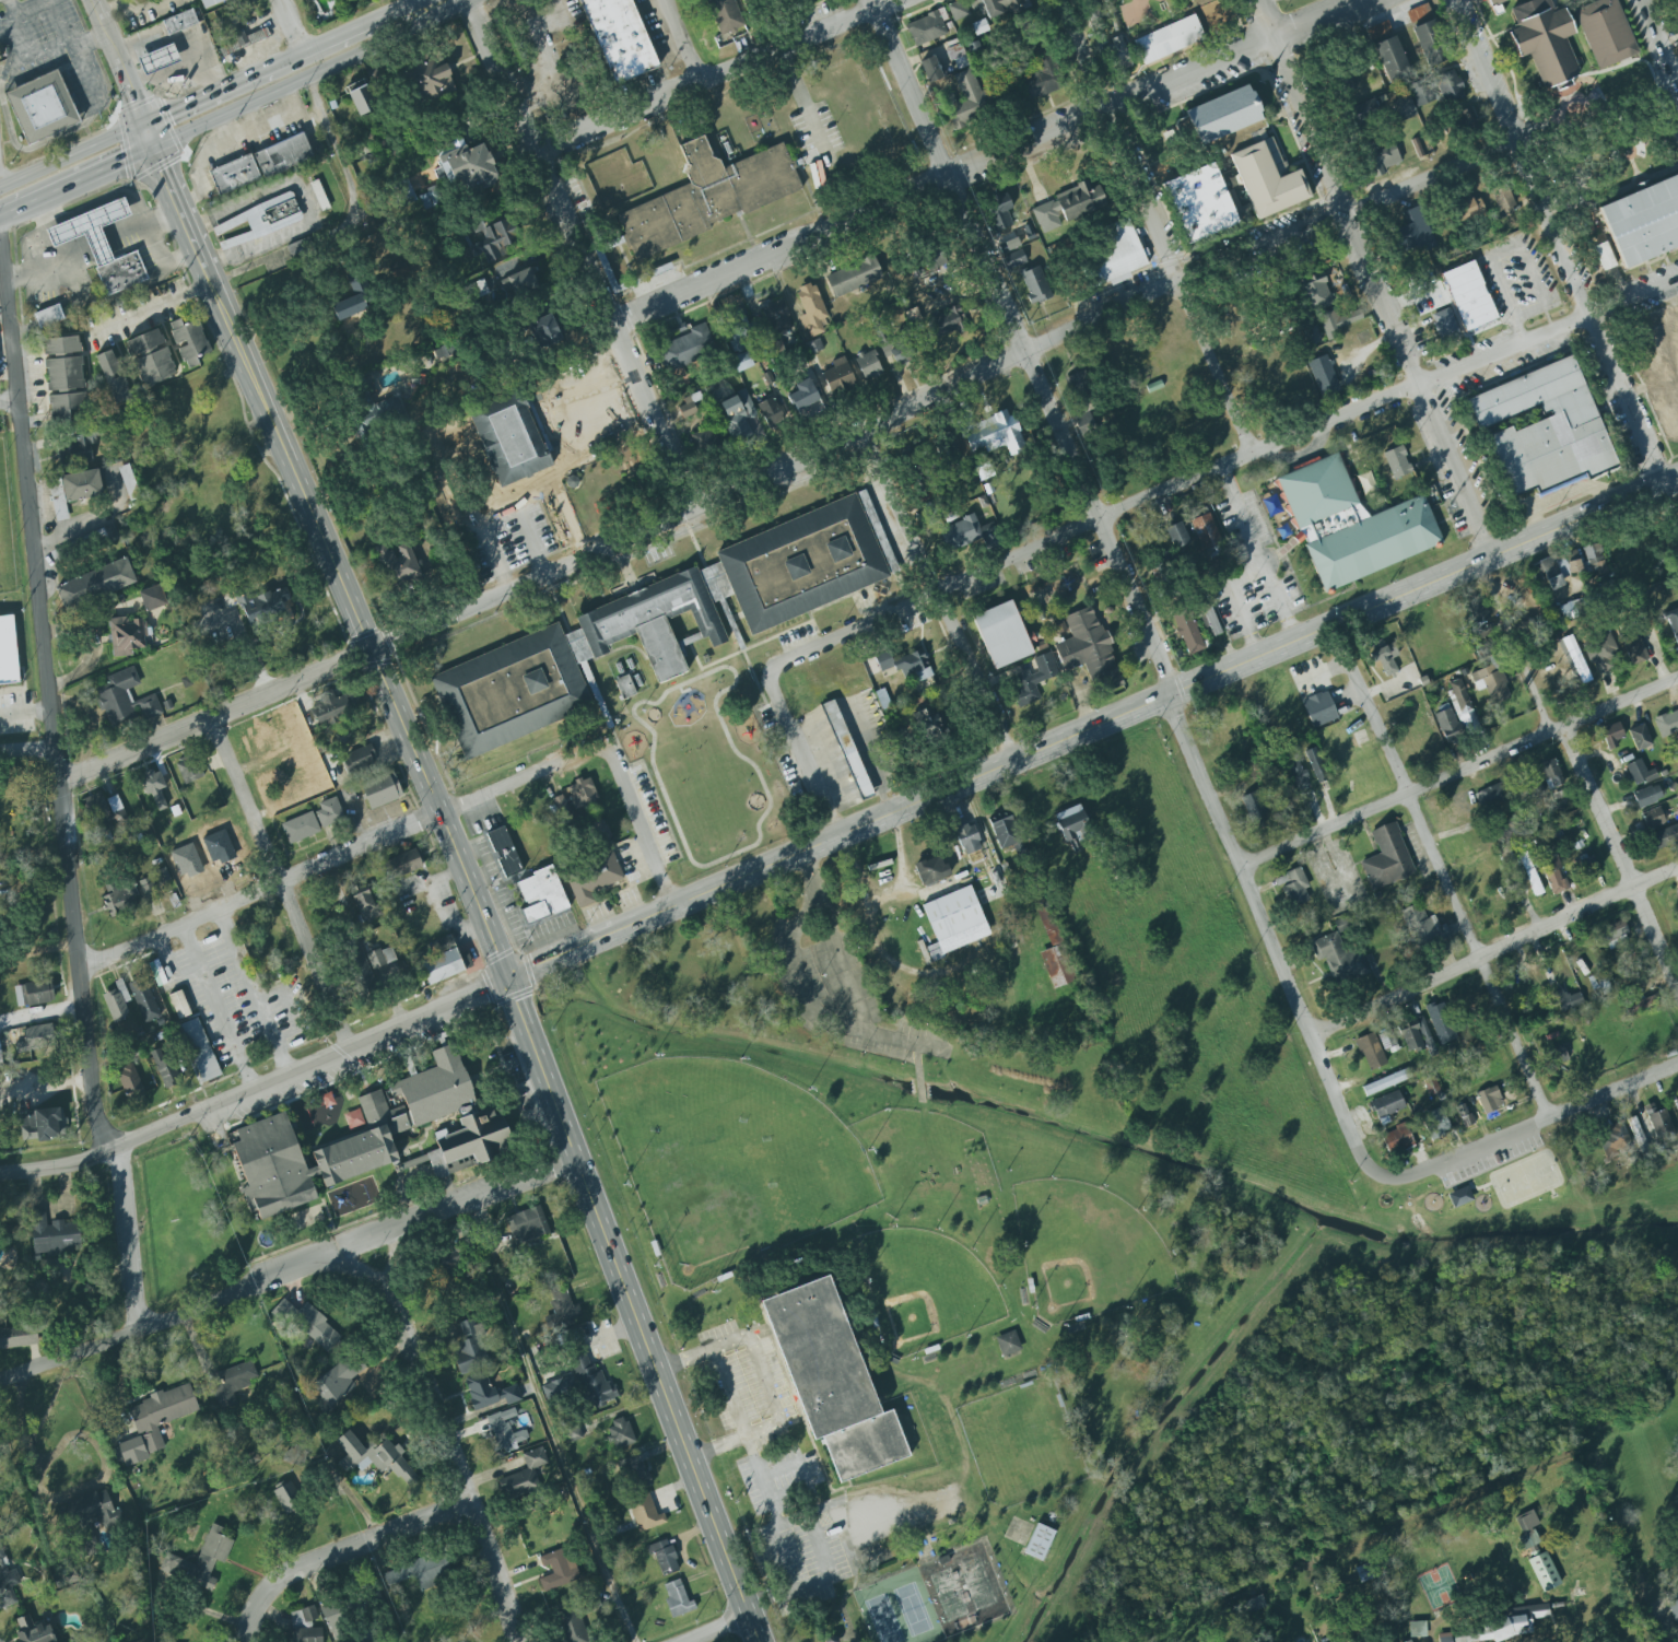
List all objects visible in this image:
building: (362, 0)
building: (774, 0)
building: (1492, 1)
building: (209, 2)
building: (754, 3)
building: (994, 5)
building: (958, 10)
road: (391, 12)
building: (723, 15)
building: (179, 21)
road: (289, 26)
building: (927, 27)
building: (1378, 31)
building: (1605, 32)
road: (180, 35)
building: (240, 36)
building: (618, 38)
building: (1170, 38)
road: (685, 40)
building: (1544, 40)
building: (1430, 42)
road: (1658, 46)
road: (537, 50)
building: (1119, 52)
building: (159, 59)
building: (1390, 59)
road: (118, 61)
building: (930, 69)
road: (165, 72)
road: (255, 74)
building: (1043, 74)
road: (714, 75)
road: (307, 77)
building: (430, 78)
building: (1448, 85)
building: (361, 97)
traffic signals: (134, 98)
road: (802, 99)
building: (972, 99)
building: (40, 106)
building: (1405, 108)
building: (1363, 112)
traffic signals: (169, 113)
road: (254, 115)
building: (1228, 117)
building: (1466, 120)
road: (221, 130)
road: (150, 136)
road: (330, 141)
road: (228, 142)
road: (72, 154)
building: (282, 154)
building: (1382, 160)
road: (990, 161)
traffic signals: (124, 162)
traffic signals: (163, 169)
building: (233, 174)
building: (1267, 176)
road: (78, 183)
building: (709, 195)
building: (319, 196)
building: (429, 199)
building: (1080, 199)
building: (1502, 201)
road: (303, 202)
building: (1199, 203)
building: (1468, 211)
building: (998, 212)
building: (1046, 215)
road: (162, 218)
building: (259, 220)
building: (1643, 221)
road: (1154, 227)
building: (1415, 231)
building: (495, 239)
building: (101, 245)
building: (1009, 245)
building: (300, 248)
building: (1117, 249)
road: (288, 250)
road: (159, 251)
road: (583, 253)
road: (48, 254)
building: (1604, 256)
road: (180, 258)
building: (1014, 259)
building: (930, 261)
building: (398, 269)
road: (1566, 270)
building: (853, 275)
road: (1371, 278)
building: (518, 283)
building: (1035, 285)
building: (477, 290)
building: (1314, 292)
building: (1469, 296)
building: (353, 300)
road: (149, 306)
building: (810, 309)
building: (48, 316)
building: (777, 318)
building: (1339, 320)
building: (948, 322)
building: (1445, 325)
building: (738, 330)
building: (544, 332)
building: (1313, 338)
building: (188, 340)
road: (1026, 345)
building: (1661, 345)
building: (813, 347)
building: (688, 348)
building: (740, 348)
building: (446, 350)
building: (899, 350)
building: (150, 356)
building: (868, 365)
building: (113, 375)
building: (1323, 375)
building: (63, 376)
building: (838, 377)
building: (1080, 386)
building: (805, 399)
road: (8, 403)
building: (688, 407)
building: (384, 412)
building: (737, 412)
building: (770, 412)
building: (1668, 417)
building: (1084, 423)
building: (1544, 427)
road: (867, 429)
building: (996, 435)
building: (509, 438)
building: (705, 441)
road: (802, 444)
building: (78, 453)
building: (1395, 461)
road: (1219, 467)
building: (129, 482)
building: (72, 489)
road: (497, 514)
road: (889, 517)
road: (87, 520)
building: (1348, 523)
building: (1205, 530)
building: (964, 532)
building: (1176, 535)
road: (1256, 553)
building: (1594, 560)
building: (807, 562)
building: (397, 563)
building: (1558, 567)
road: (1291, 573)
building: (95, 584)
building: (151, 598)
road: (1235, 602)
building: (266, 608)
building: (1477, 609)
building: (1572, 609)
building: (1211, 620)
building: (1671, 621)
building: (1482, 631)
building: (1188, 632)
building: (1001, 633)
building: (127, 635)
road: (1514, 645)
building: (1632, 648)
building: (1088, 650)
building: (8, 652)
building: (1600, 652)
building: (1574, 659)
building: (571, 661)
building: (906, 665)
road: (1322, 672)
road: (973, 677)
building: (1034, 678)
building: (1491, 683)
building: (625, 687)
building: (125, 699)
road: (1147, 705)
building: (332, 706)
building: (1463, 707)
building: (1319, 709)
road: (24, 713)
building: (1666, 723)
building: (930, 724)
building: (1447, 724)
building: (1610, 734)
building: (1639, 737)
building: (1416, 746)
building: (847, 749)
road: (25, 751)
building: (1343, 751)
road: (801, 754)
building: (359, 759)
building: (1315, 765)
building: (189, 769)
road: (1456, 771)
building: (1638, 772)
building: (1550, 774)
building: (1299, 776)
building: (154, 788)
building: (380, 789)
road: (57, 793)
building: (1490, 795)
building: (1645, 795)
building: (575, 798)
building: (1254, 808)
building: (97, 809)
building: (329, 811)
building: (118, 812)
building: (1652, 818)
road: (638, 824)
building: (1071, 824)
building: (300, 826)
building: (1514, 828)
building: (601, 831)
building: (1006, 832)
road: (1448, 833)
building: (1665, 837)
building: (969, 840)
parking lot: (1416, 847)
road: (1375, 849)
building: (504, 852)
road: (342, 856)
road: (1620, 857)
building: (1388, 859)
building: (1537, 861)
building: (400, 865)
building: (1588, 867)
road: (808, 869)
building: (930, 869)
road: (1440, 869)
building: (1529, 872)
parking lot: (1337, 875)
building: (1486, 875)
building: (1554, 876)
building: (592, 879)
road: (278, 885)
road: (1342, 887)
building: (148, 888)
building: (1295, 888)
road: (472, 889)
building: (541, 894)
road: (890, 895)
building: (120, 896)
building: (364, 904)
building: (1677, 906)
building: (954, 922)
building: (1421, 927)
building: (1614, 935)
road: (1267, 943)
building: (1054, 949)
road: (1491, 951)
road: (562, 954)
building: (1386, 955)
building: (382, 958)
road: (836, 958)
building: (1338, 959)
road: (168, 966)
building: (359, 970)
road: (798, 973)
traffic signals: (507, 977)
parking lot: (838, 982)
building: (1599, 984)
building: (34, 993)
road: (253, 993)
building: (143, 999)
building: (1568, 1000)
building: (117, 1001)
building: (179, 1005)
building: (1641, 1005)
road: (215, 1008)
road: (40, 1012)
building: (1443, 1022)
building: (1416, 1035)
building: (37, 1039)
road: (906, 1041)
building: (1387, 1041)
building: (199, 1049)
street lamp: (653, 1051)
building: (1370, 1052)
building: (1554, 1056)
street lamp: (737, 1057)
building: (164, 1067)
road: (918, 1074)
street lamp: (807, 1080)
building: (130, 1082)
building: (1386, 1082)
road: (257, 1087)
building: (1431, 1087)
building: (325, 1100)
building: (1488, 1102)
building: (1676, 1103)
building: (1387, 1106)
building: (1435, 1123)
road: (1532, 1123)
building: (1659, 1123)
building: (40, 1124)
building: (263, 1134)
building: (1638, 1136)
building: (1397, 1139)
building: (1615, 1139)
street lamp: (867, 1147)
park: (729, 1162)
street lamp: (1048, 1176)
street lamp: (1100, 1185)
building: (1459, 1197)
street lamp: (1137, 1209)
building: (527, 1224)
street lamp: (889, 1224)
street lamp: (935, 1228)
building: (51, 1235)
street lamp: (1167, 1247)
street lamp: (972, 1248)
park: (1086, 1250)
building: (35, 1258)
building: (448, 1267)
road: (286, 1269)
street lamp: (999, 1285)
park: (925, 1289)
street lamp: (1123, 1309)
building: (562, 1310)
building: (310, 1325)
building: (17, 1337)
building: (1008, 1344)
building: (479, 1369)
parking lot: (742, 1373)
road: (765, 1380)
building: (830, 1380)
building: (230, 1383)
building: (591, 1383)
building: (559, 1389)
building: (154, 1422)
road: (547, 1424)
building: (503, 1433)
building: (574, 1433)
building: (620, 1434)
road: (744, 1435)
road: (447, 1439)
road: (55, 1451)
building: (294, 1455)
building: (374, 1457)
parking lot: (776, 1471)
road: (801, 1471)
building: (635, 1473)
building: (525, 1475)
building: (286, 1497)
road: (824, 1505)
building: (90, 1510)
building: (645, 1513)
building: (1527, 1527)
road: (364, 1539)
building: (1039, 1541)
building: (665, 1557)
building: (199, 1561)
building: (559, 1570)
building: (421, 1571)
building: (1364, 1572)
building: (1544, 1572)
road: (811, 1585)
park: (962, 1590)
building: (677, 1598)
building: (1254, 1604)
building: (1674, 1605)
park: (897, 1610)
road: (248, 1614)
building: (336, 1621)
building: (303, 1626)
building: (1499, 1626)
building: (572, 1627)
road: (716, 1628)
building: (1417, 1629)
building: (33, 1630)
building: (1408, 1641)

